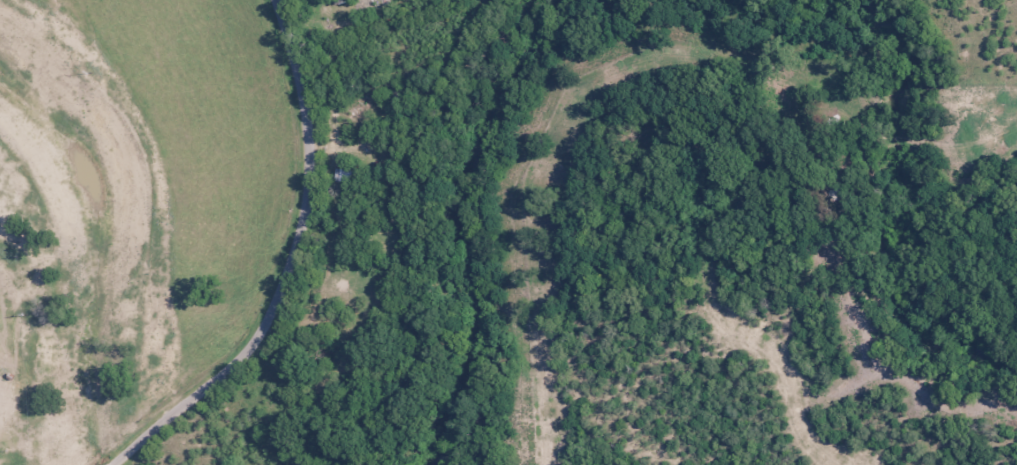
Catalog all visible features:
road: (293, 266)
road: (6, 461)

